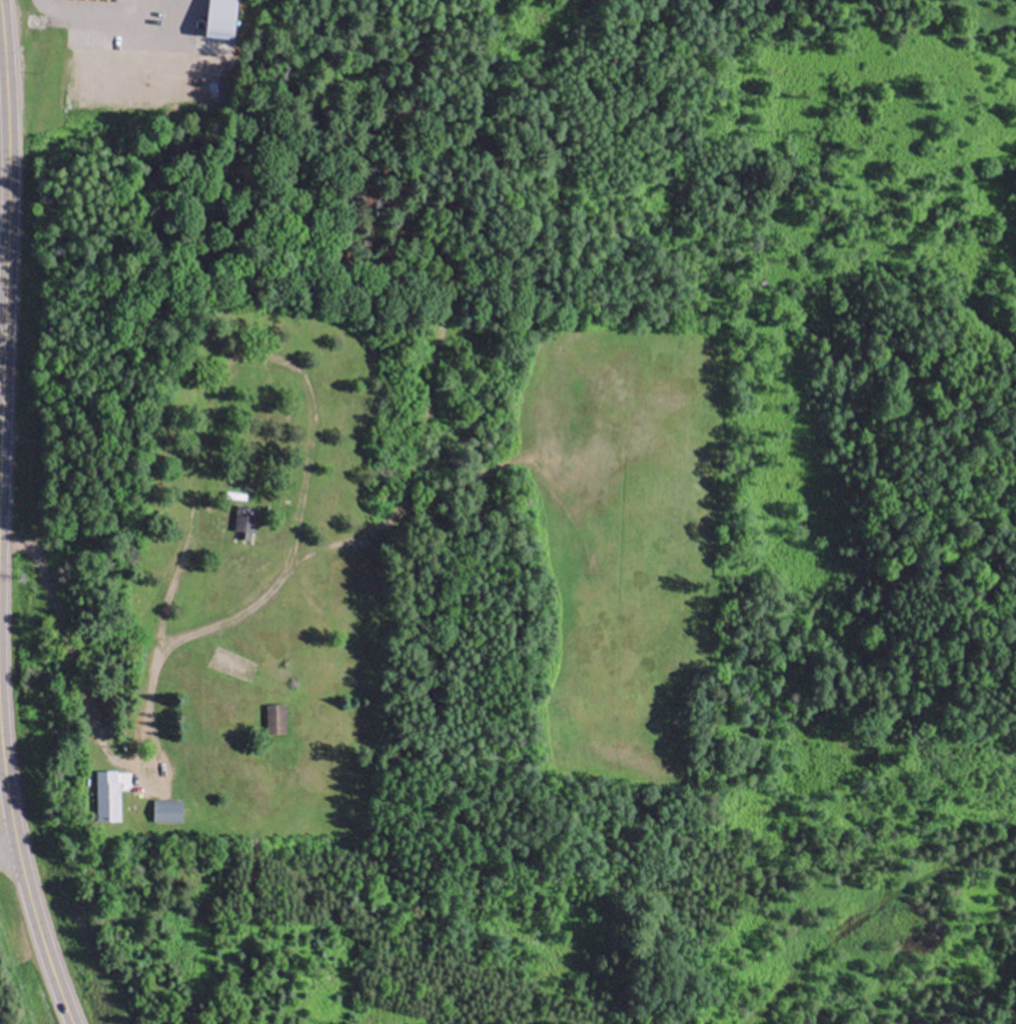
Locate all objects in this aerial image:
road: (100, 11)
road: (168, 17)
building: (222, 17)
road: (4, 219)
road: (291, 365)
building: (245, 520)
road: (86, 708)
building: (275, 717)
building: (108, 795)
building: (167, 809)
road: (8, 853)
road: (25, 886)

